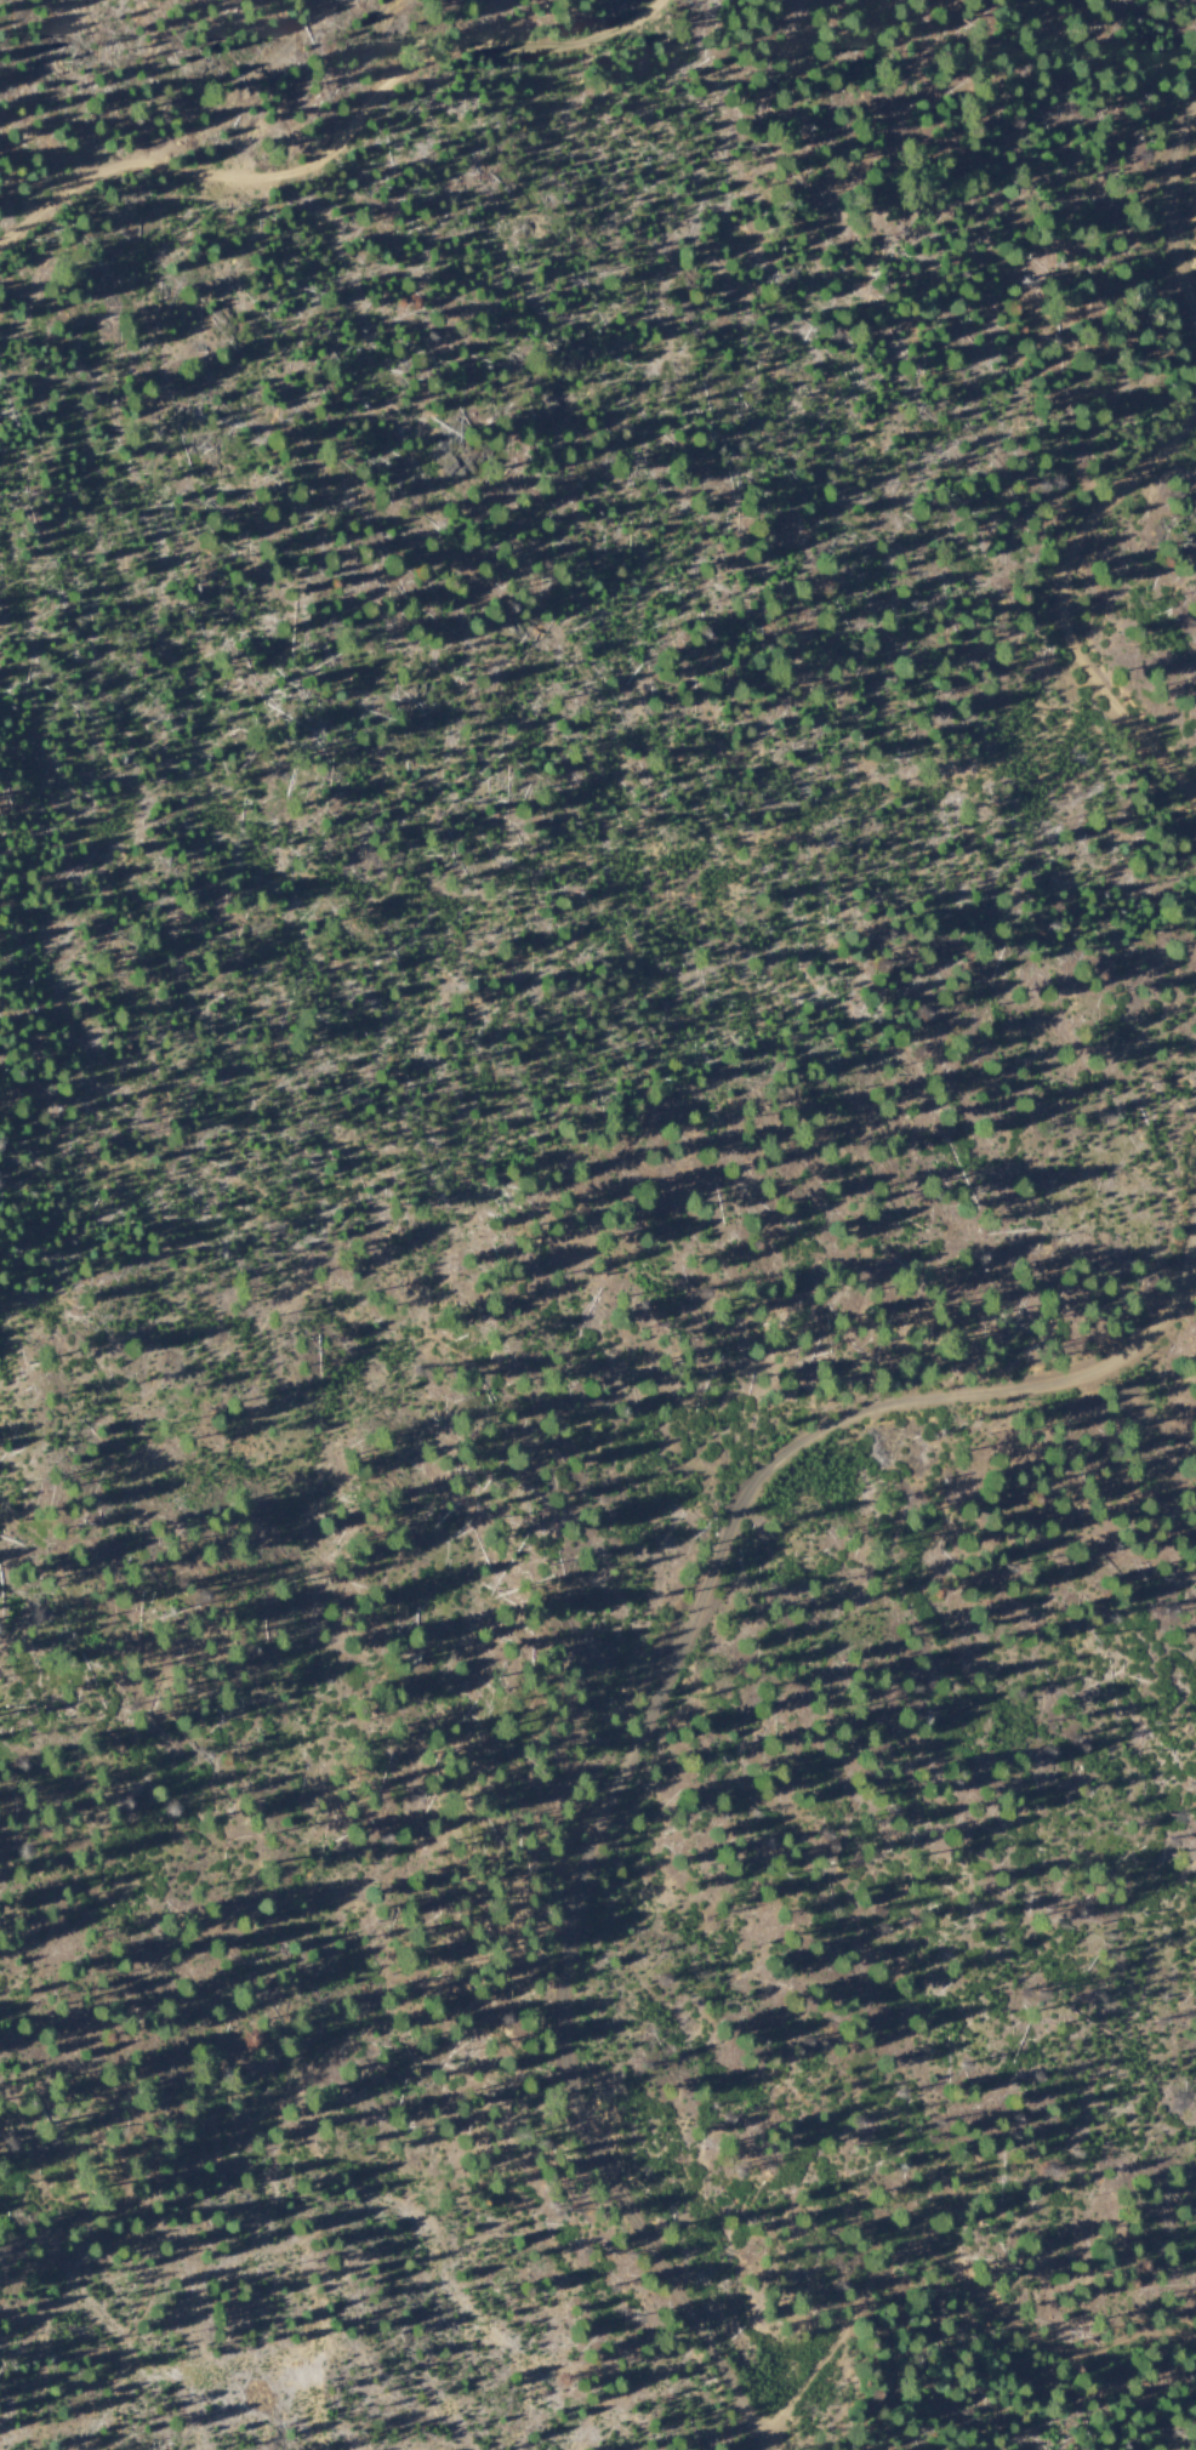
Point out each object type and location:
road: (1169, 222)
road: (1065, 596)
road: (653, 1693)
road: (942, 2279)

